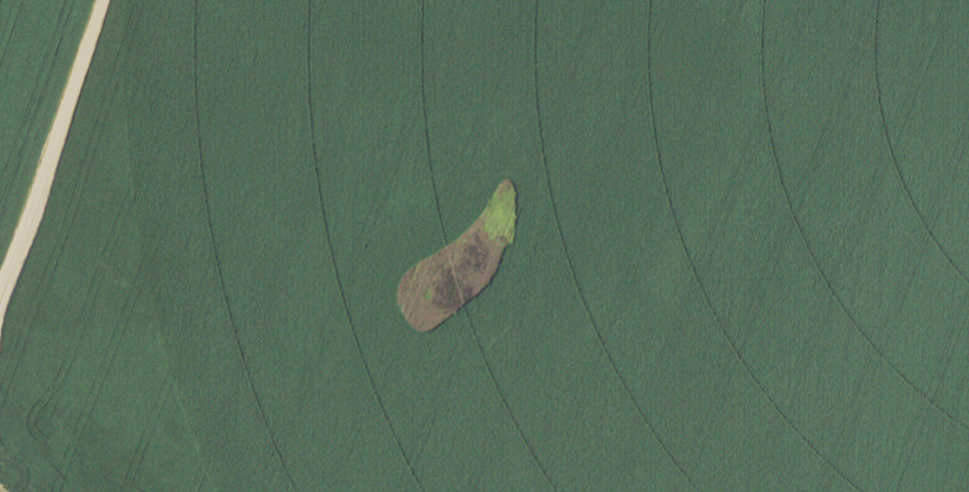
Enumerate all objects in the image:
road: (49, 149)

